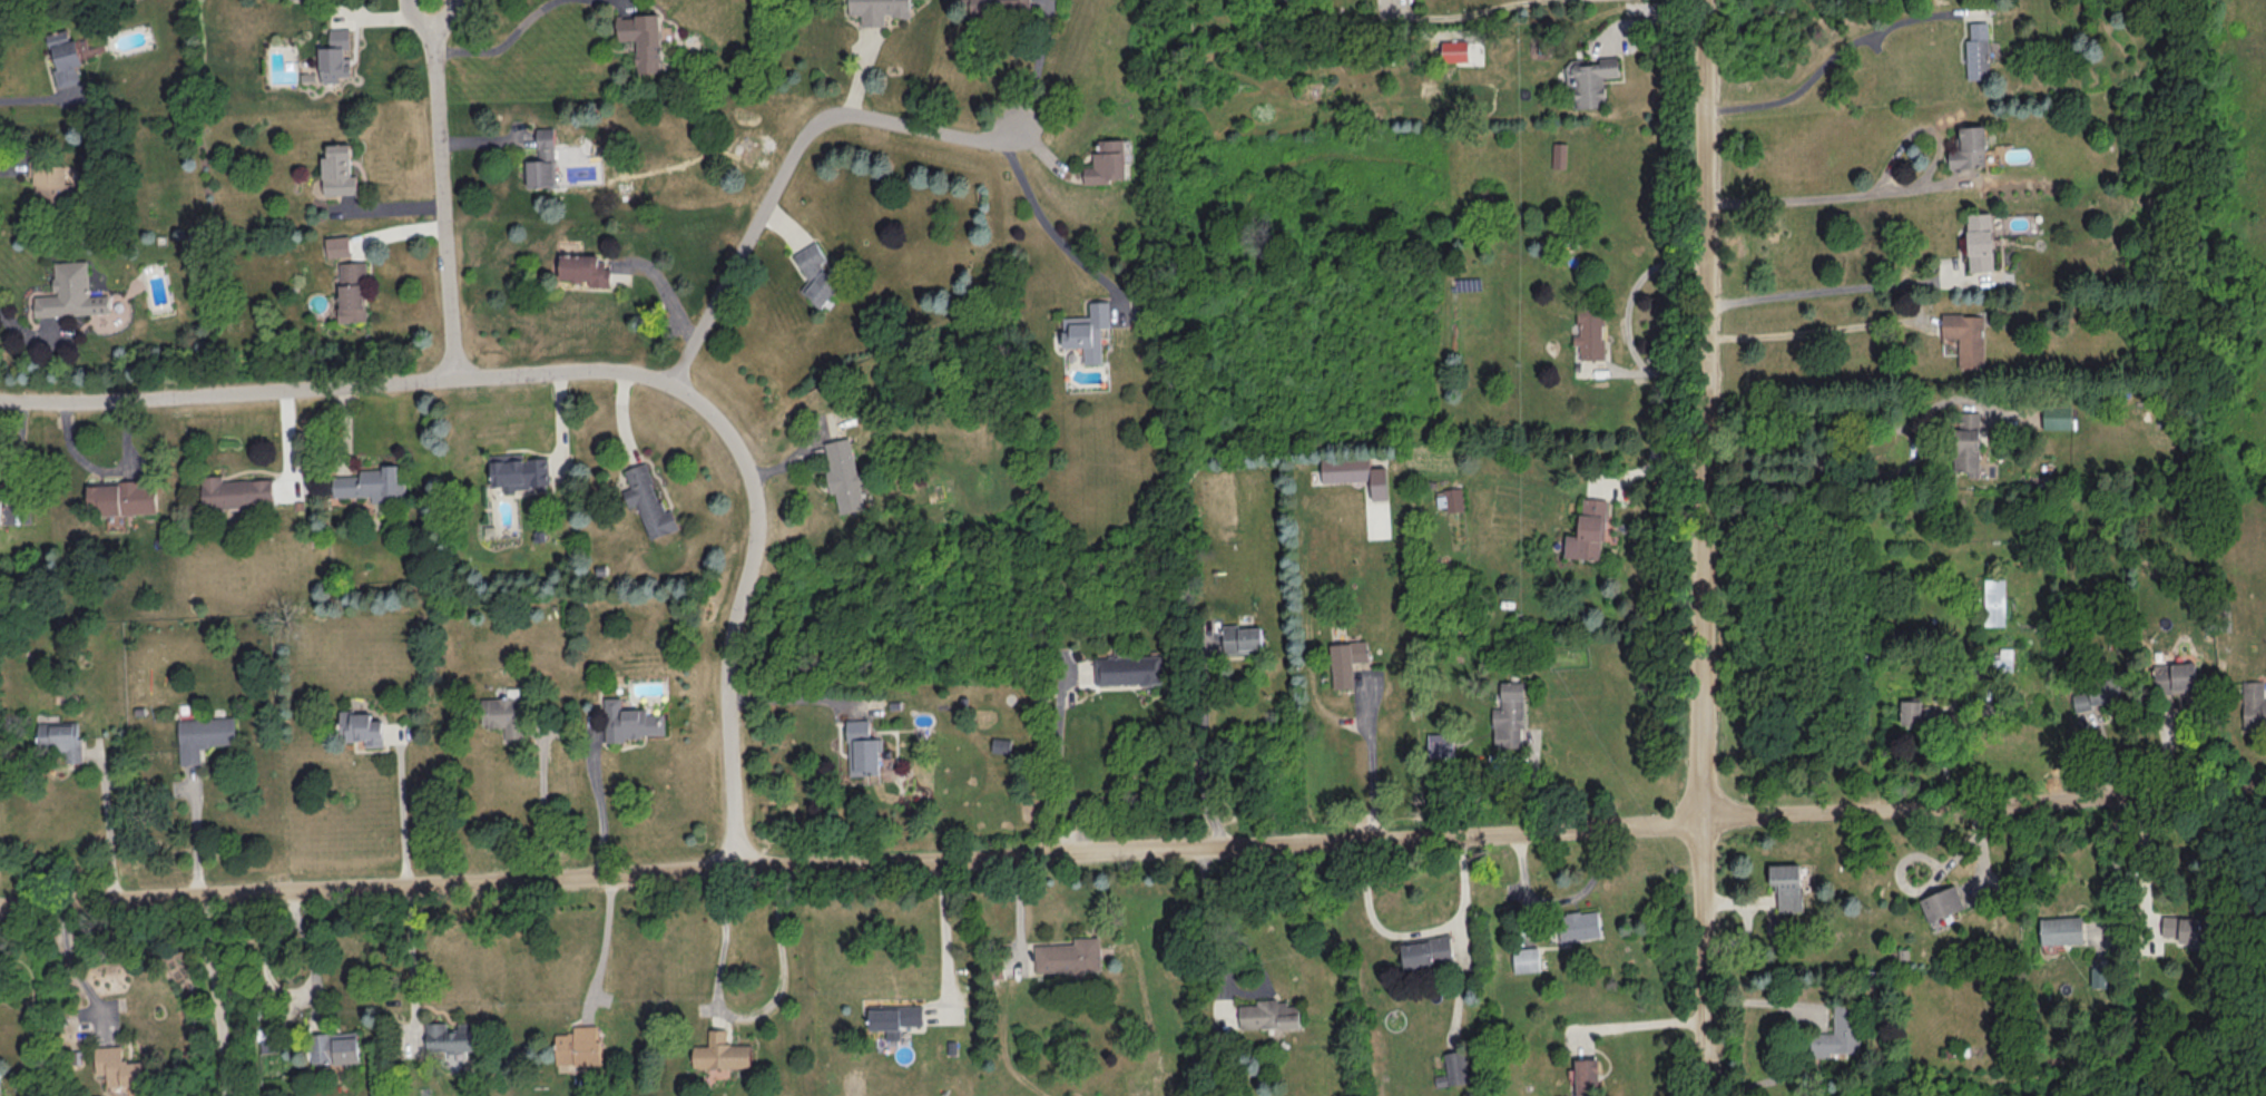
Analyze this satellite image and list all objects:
building: (995, 4)
building: (877, 10)
road: (1470, 12)
building: (642, 38)
road: (500, 43)
building: (1454, 49)
building: (1978, 50)
building: (335, 56)
building: (66, 57)
road: (1825, 58)
road: (1037, 66)
building: (1591, 79)
road: (27, 97)
building: (1970, 147)
building: (1558, 154)
building: (542, 159)
building: (1107, 160)
road: (788, 163)
building: (337, 169)
building: (49, 177)
road: (441, 188)
road: (1824, 197)
road: (1046, 225)
building: (1979, 241)
building: (339, 245)
building: (583, 267)
building: (816, 273)
road: (1841, 287)
building: (352, 290)
building: (70, 292)
road: (1627, 316)
road: (1815, 325)
building: (1087, 330)
building: (1590, 332)
building: (1965, 336)
road: (595, 369)
building: (2057, 415)
building: (1966, 441)
road: (1852, 447)
road: (1658, 462)
building: (519, 470)
road: (1878, 471)
building: (844, 473)
building: (1355, 473)
building: (370, 483)
building: (236, 491)
building: (124, 496)
building: (1450, 498)
building: (648, 501)
building: (0, 511)
building: (1588, 530)
road: (1707, 547)
building: (1993, 600)
building: (1240, 637)
building: (2003, 657)
building: (1345, 660)
building: (1126, 668)
building: (2174, 675)
building: (2098, 693)
road: (800, 694)
building: (2254, 704)
building: (1911, 711)
building: (502, 712)
building: (1509, 715)
building: (629, 721)
building: (362, 726)
building: (203, 735)
building: (61, 737)
building: (1440, 744)
building: (862, 748)
road: (1201, 755)
road: (1373, 766)
road: (1060, 771)
road: (600, 808)
road: (543, 811)
road: (402, 812)
road: (107, 825)
road: (195, 833)
road: (1132, 850)
road: (2141, 850)
road: (2113, 859)
road: (1931, 879)
building: (1787, 884)
road: (1557, 899)
building: (1941, 901)
road: (1213, 920)
building: (1579, 923)
building: (2181, 927)
building: (2061, 928)
road: (1414, 932)
road: (945, 933)
park: (2247, 933)
road: (602, 936)
building: (1426, 950)
building: (1069, 955)
building: (1526, 958)
road: (410, 963)
road: (73, 966)
building: (2099, 975)
road: (217, 995)
road: (747, 1011)
building: (1268, 1014)
building: (894, 1017)
road: (1642, 1024)
building: (1837, 1031)
building: (450, 1036)
building: (271, 1039)
building: (577, 1045)
building: (334, 1046)
building: (720, 1051)
building: (117, 1065)
building: (1453, 1067)
building: (1586, 1076)
park: (2057, 1076)

